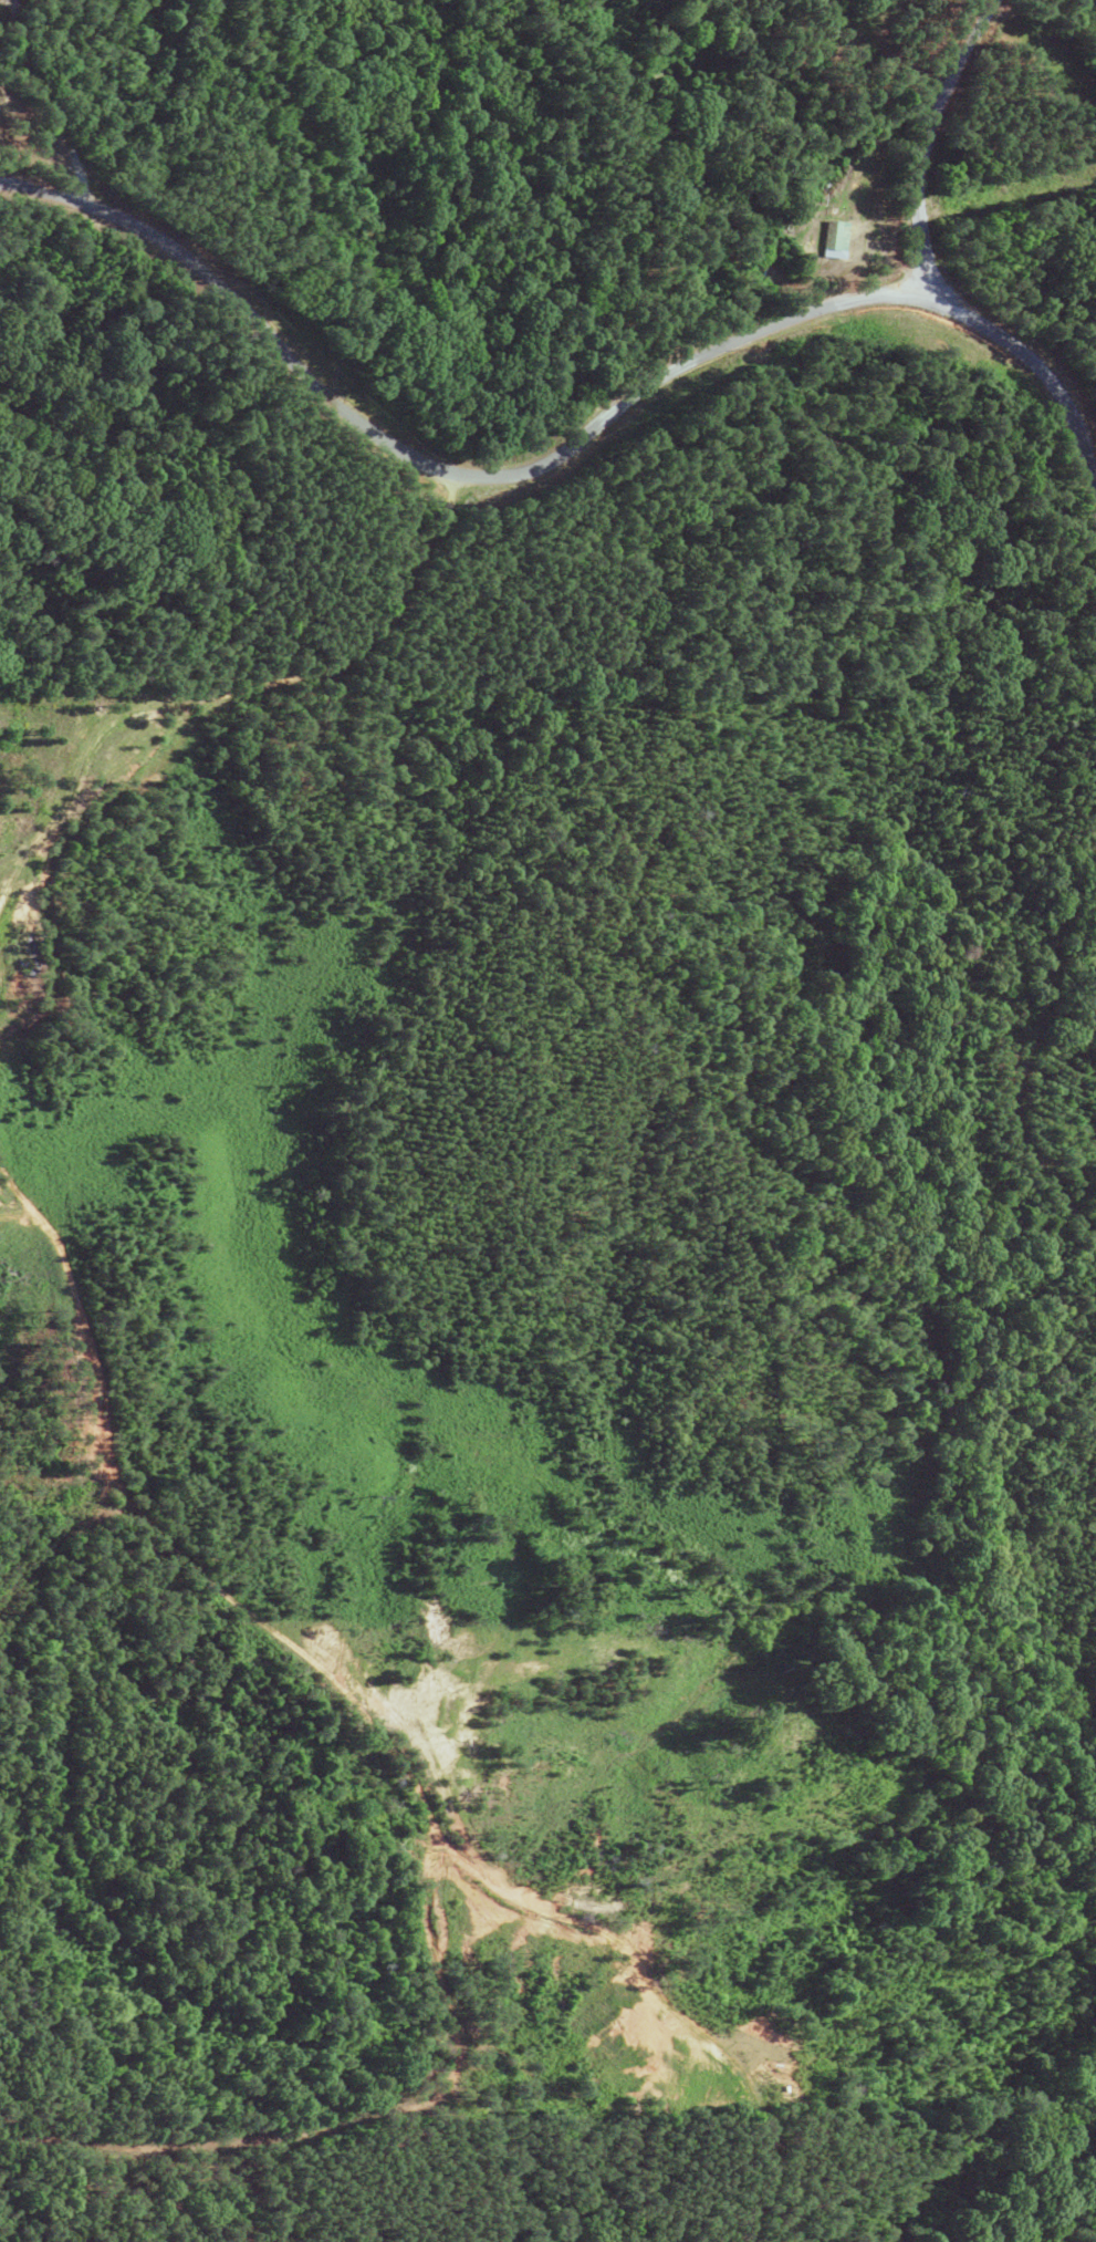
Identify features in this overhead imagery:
road: (978, 145)
building: (831, 239)
road: (567, 444)
road: (321, 611)

